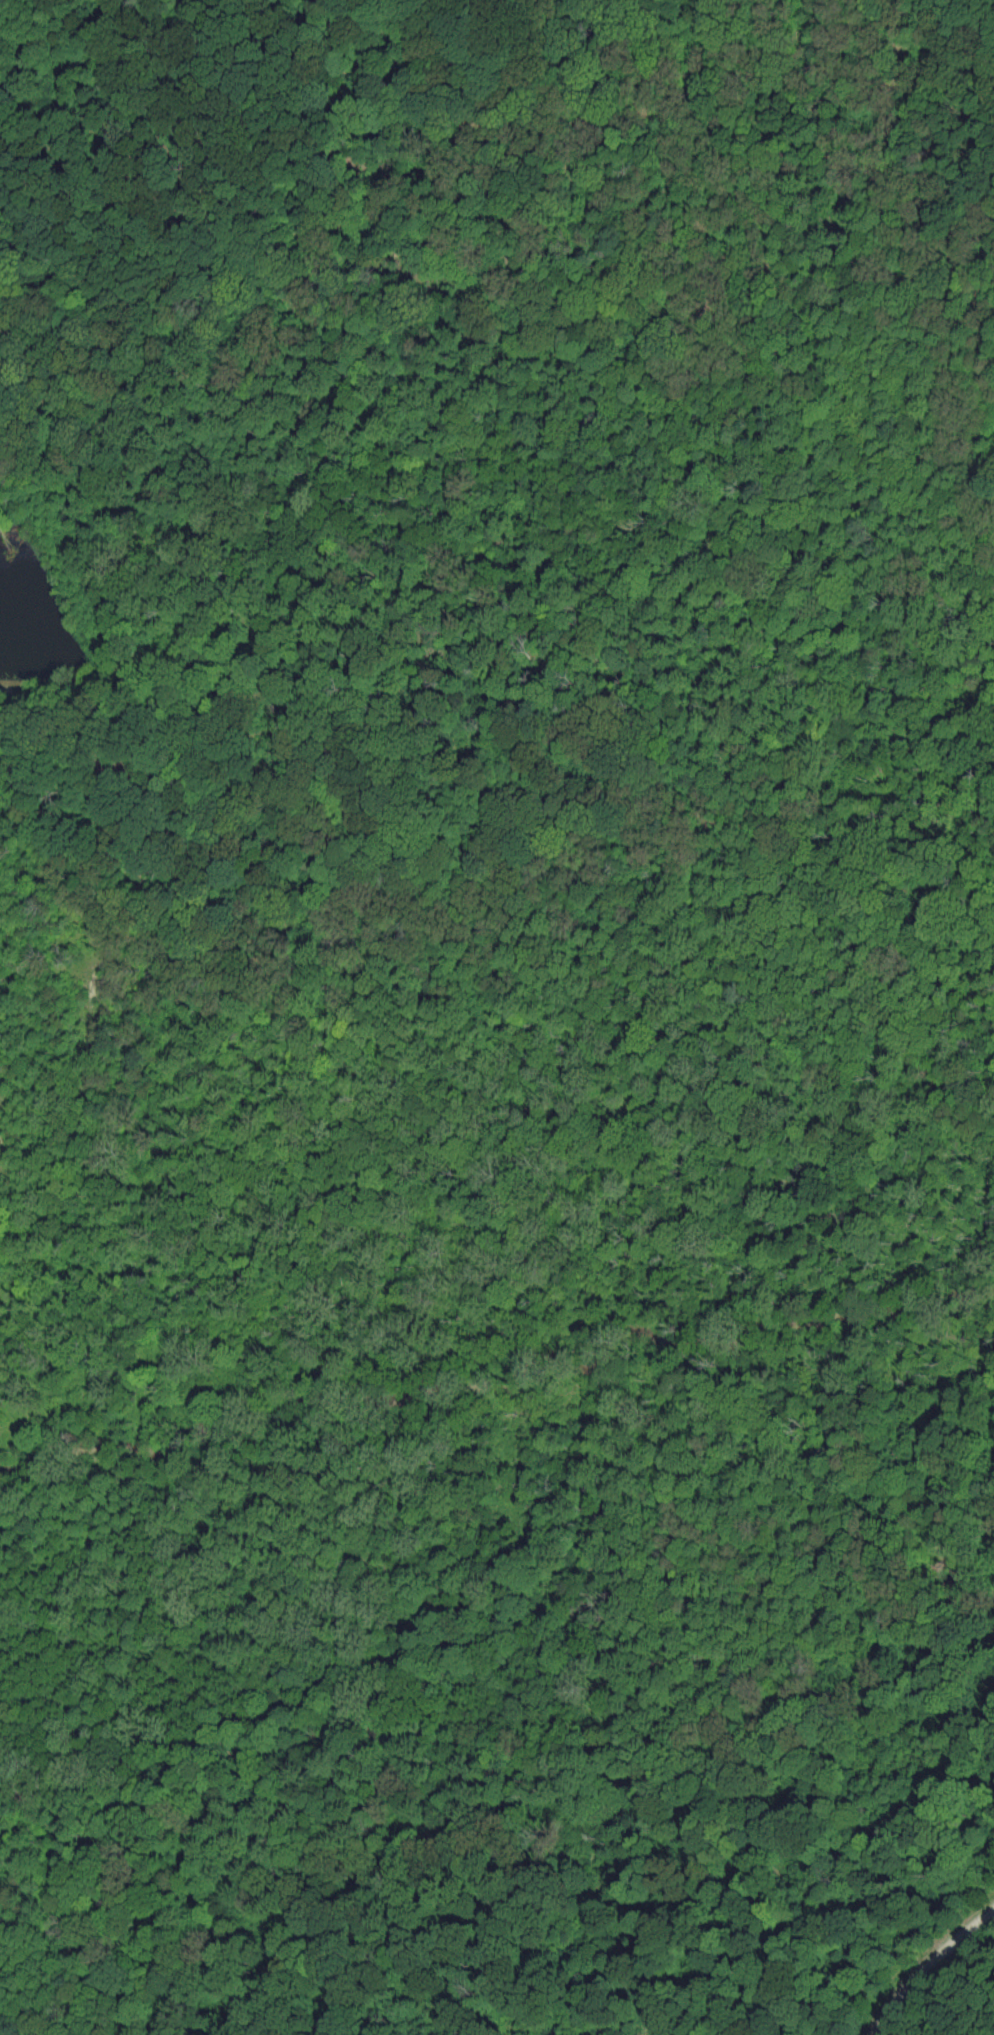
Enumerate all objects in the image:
road: (930, 1969)

